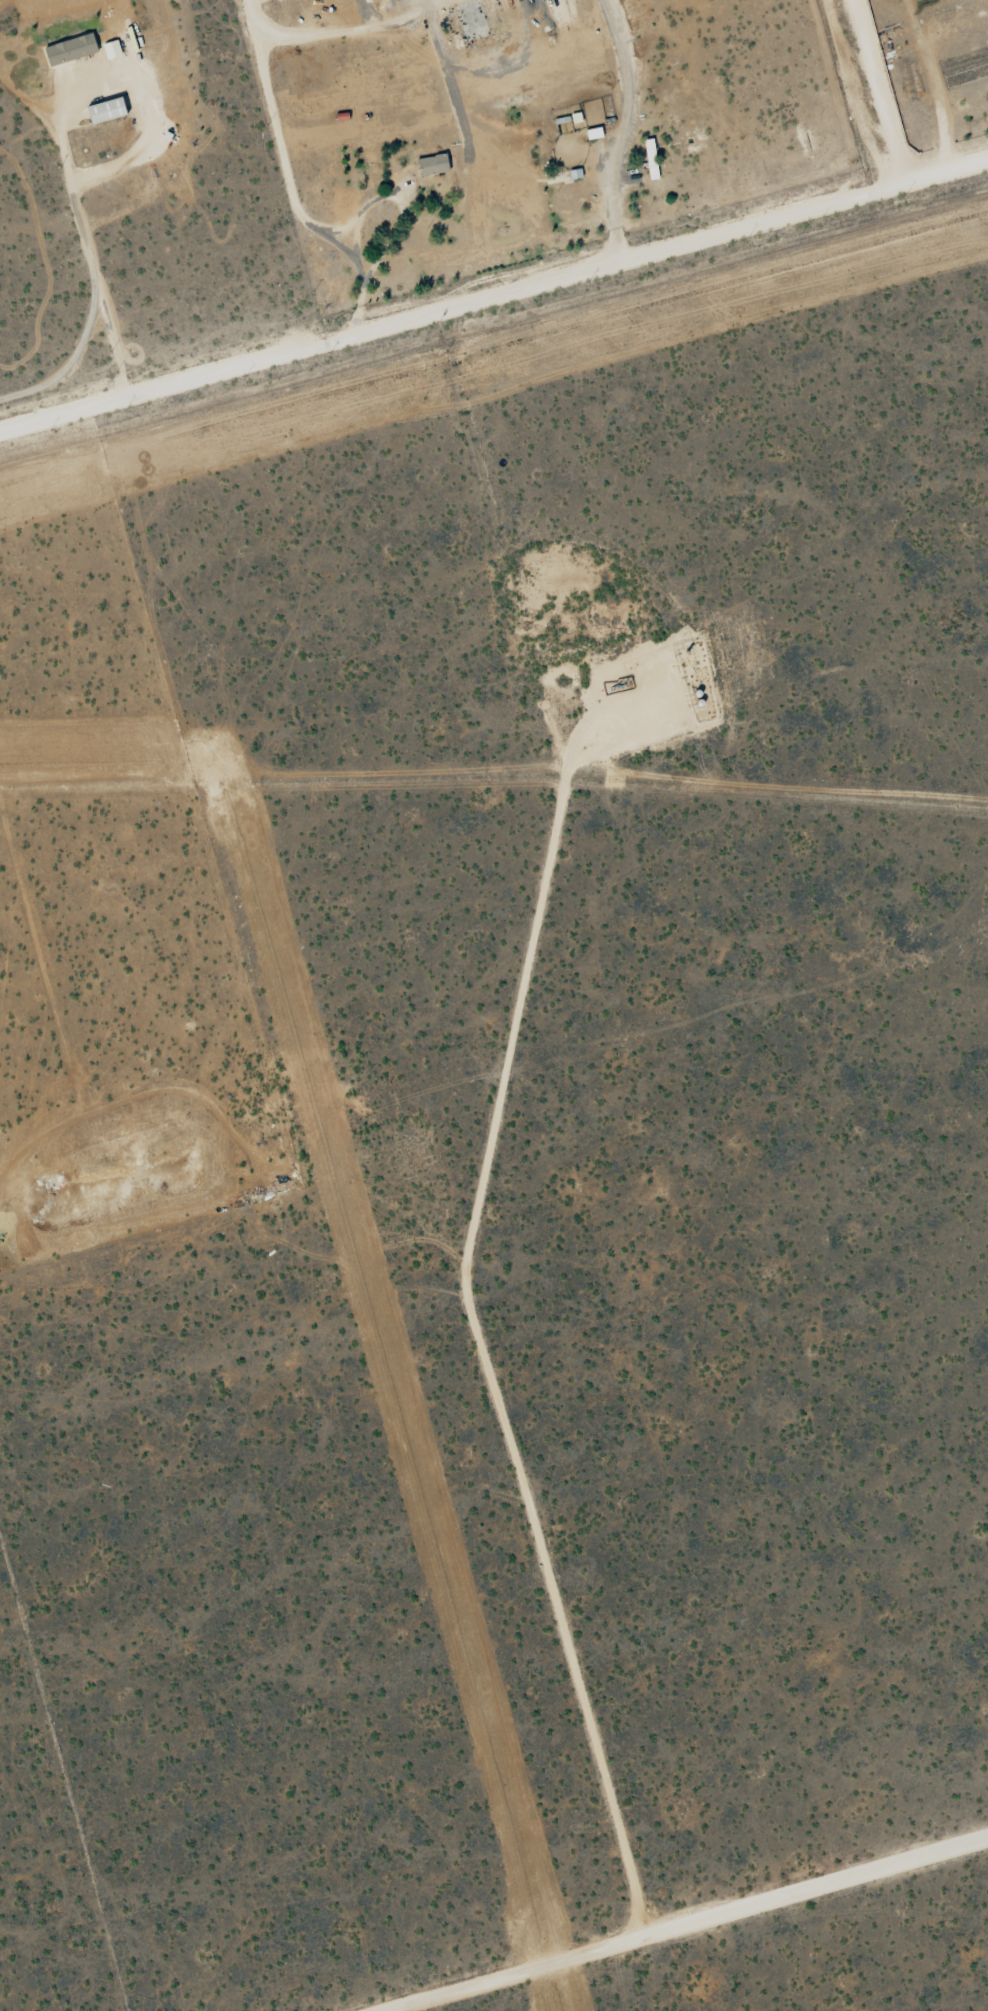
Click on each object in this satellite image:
building: (110, 50)
building: (68, 51)
road: (879, 88)
building: (103, 112)
building: (430, 166)
road: (494, 288)

